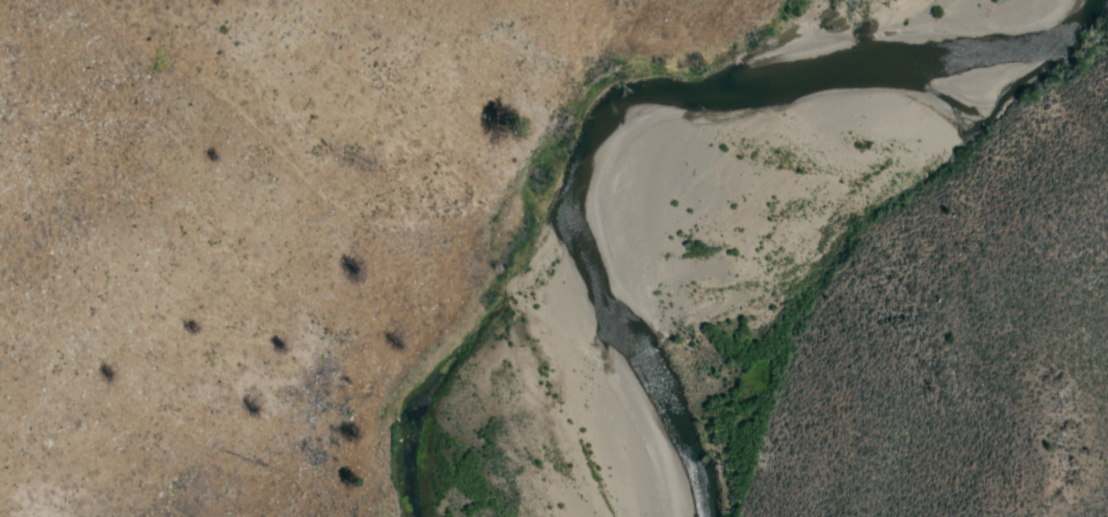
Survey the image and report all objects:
river: (659, 114)

